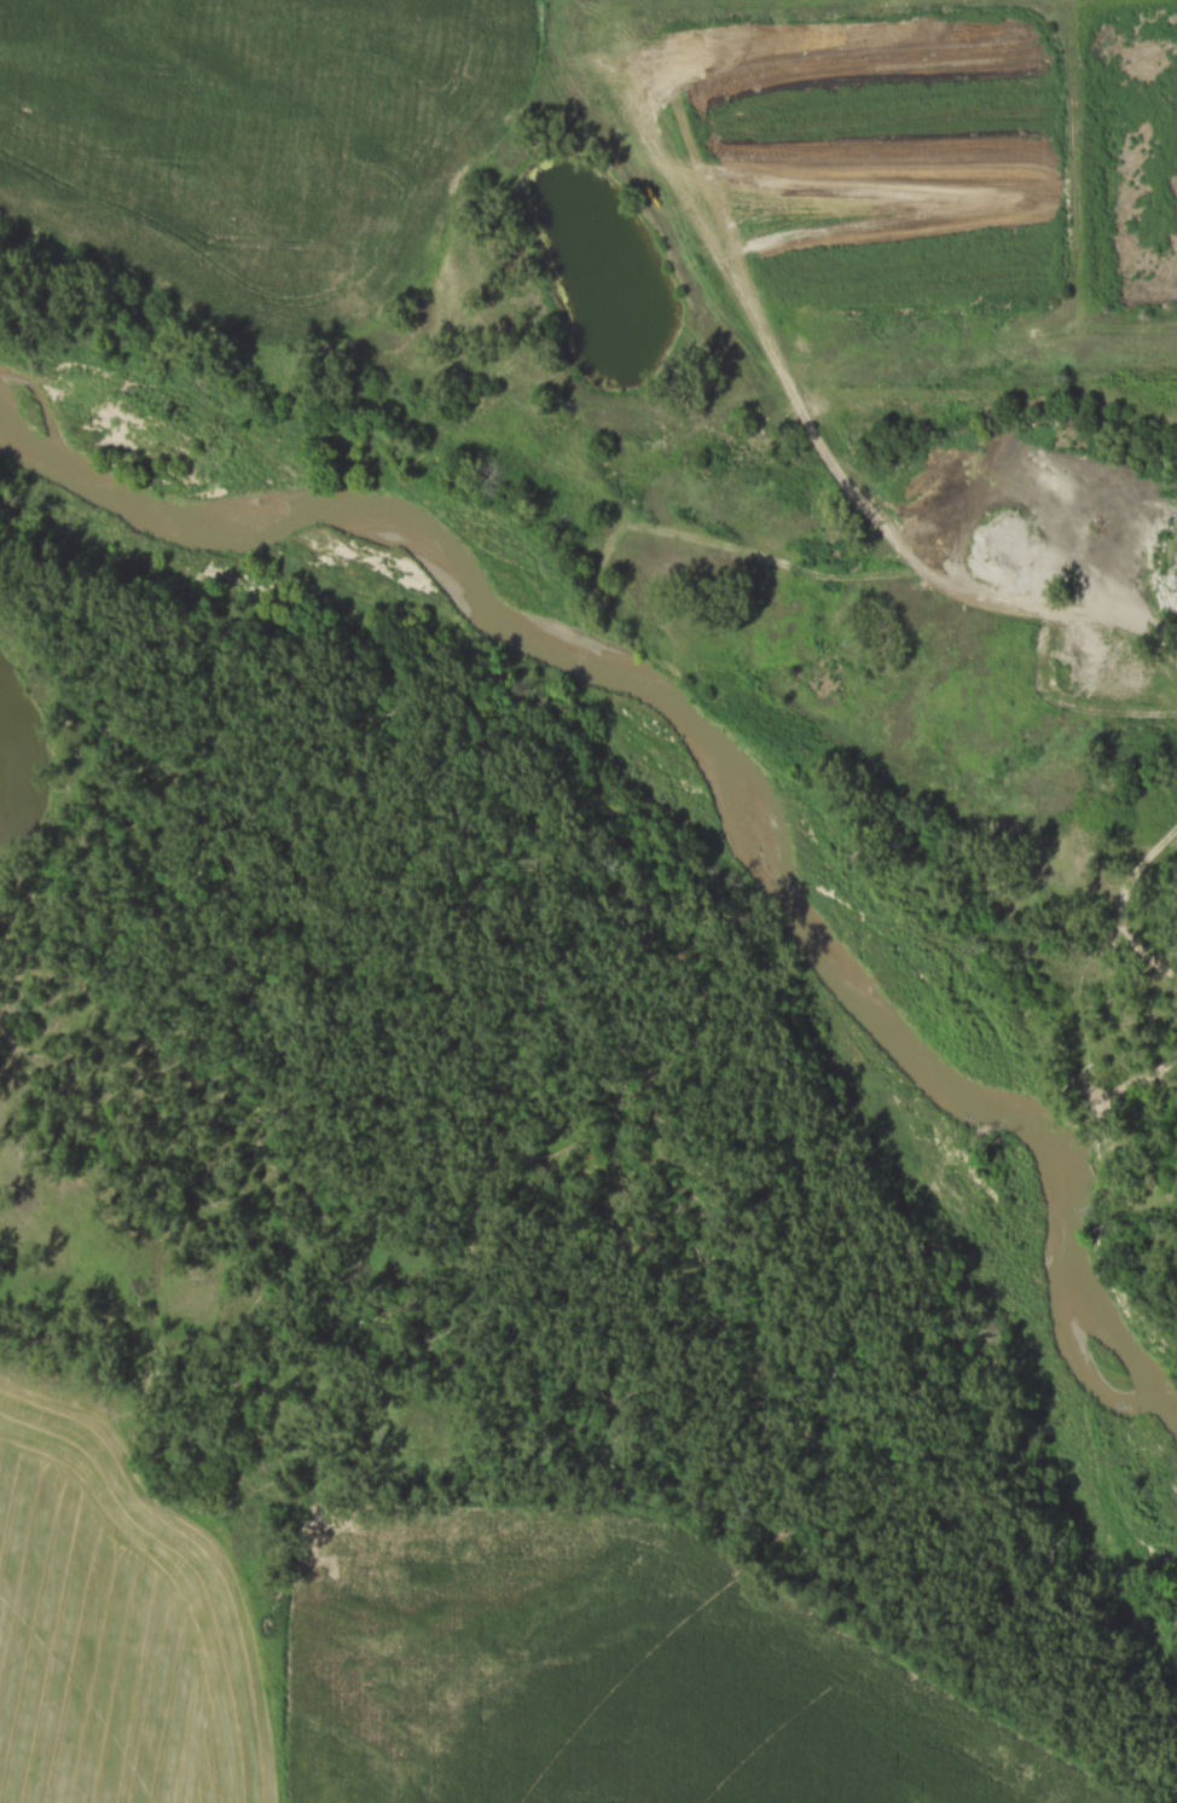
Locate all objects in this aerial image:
river: (712, 763)

